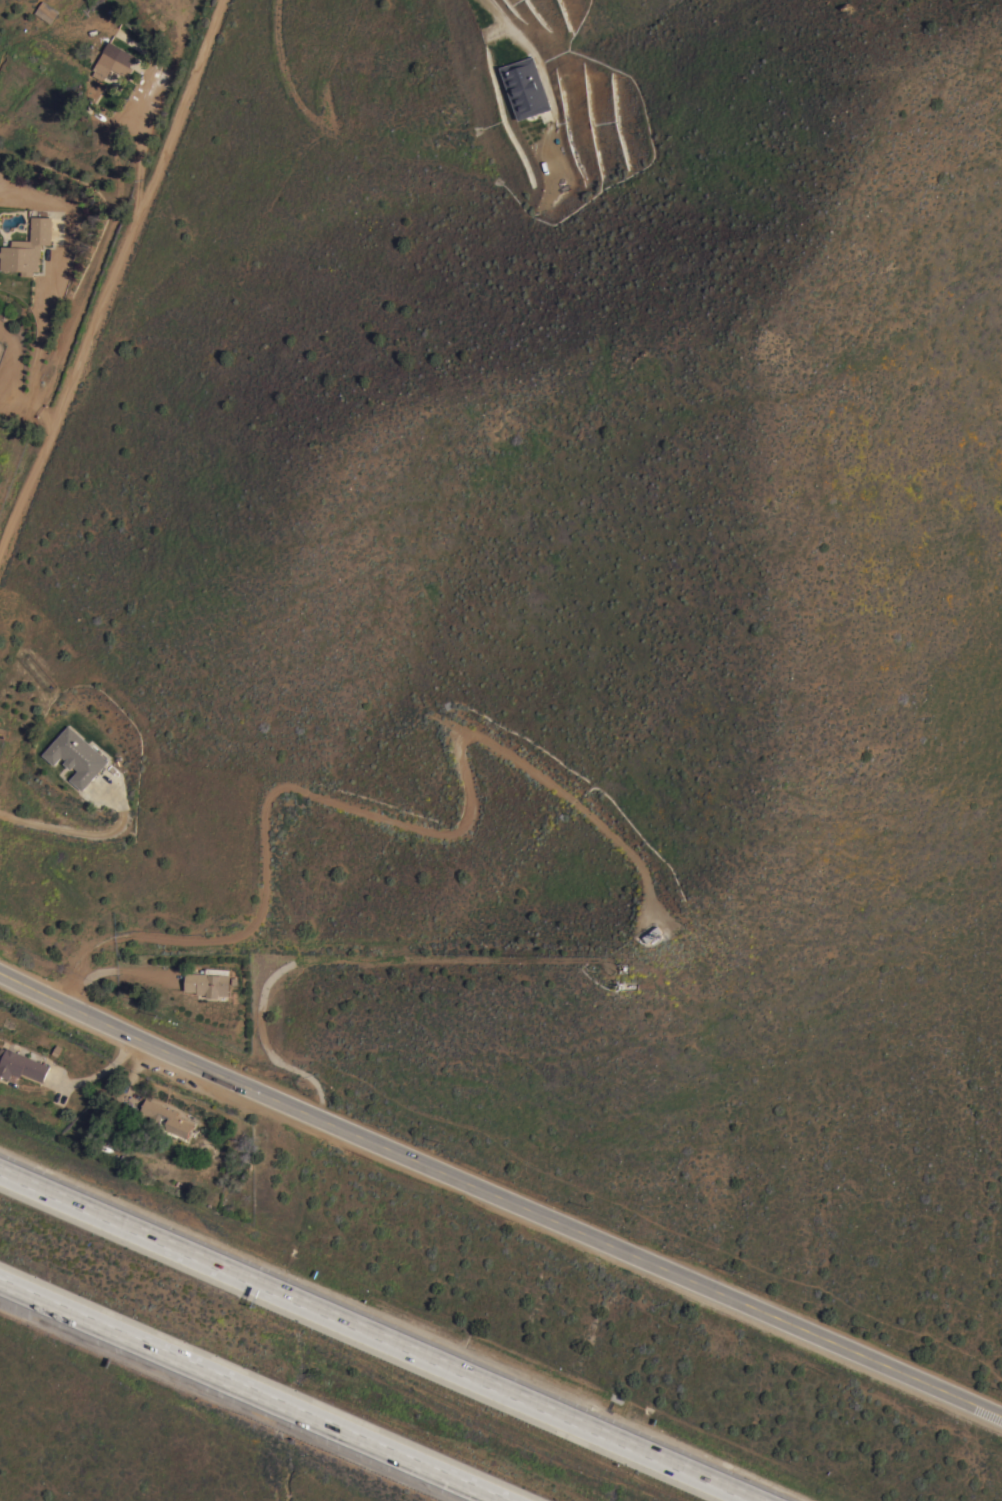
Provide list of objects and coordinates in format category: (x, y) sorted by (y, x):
building: (45, 11)
road: (529, 51)
building: (112, 61)
building: (525, 87)
building: (27, 248)
road: (111, 281)
building: (76, 755)
road: (87, 834)
building: (652, 933)
building: (215, 970)
building: (207, 984)
building: (20, 1065)
building: (166, 1118)
road: (499, 1201)
road: (372, 1340)
road: (256, 1390)

